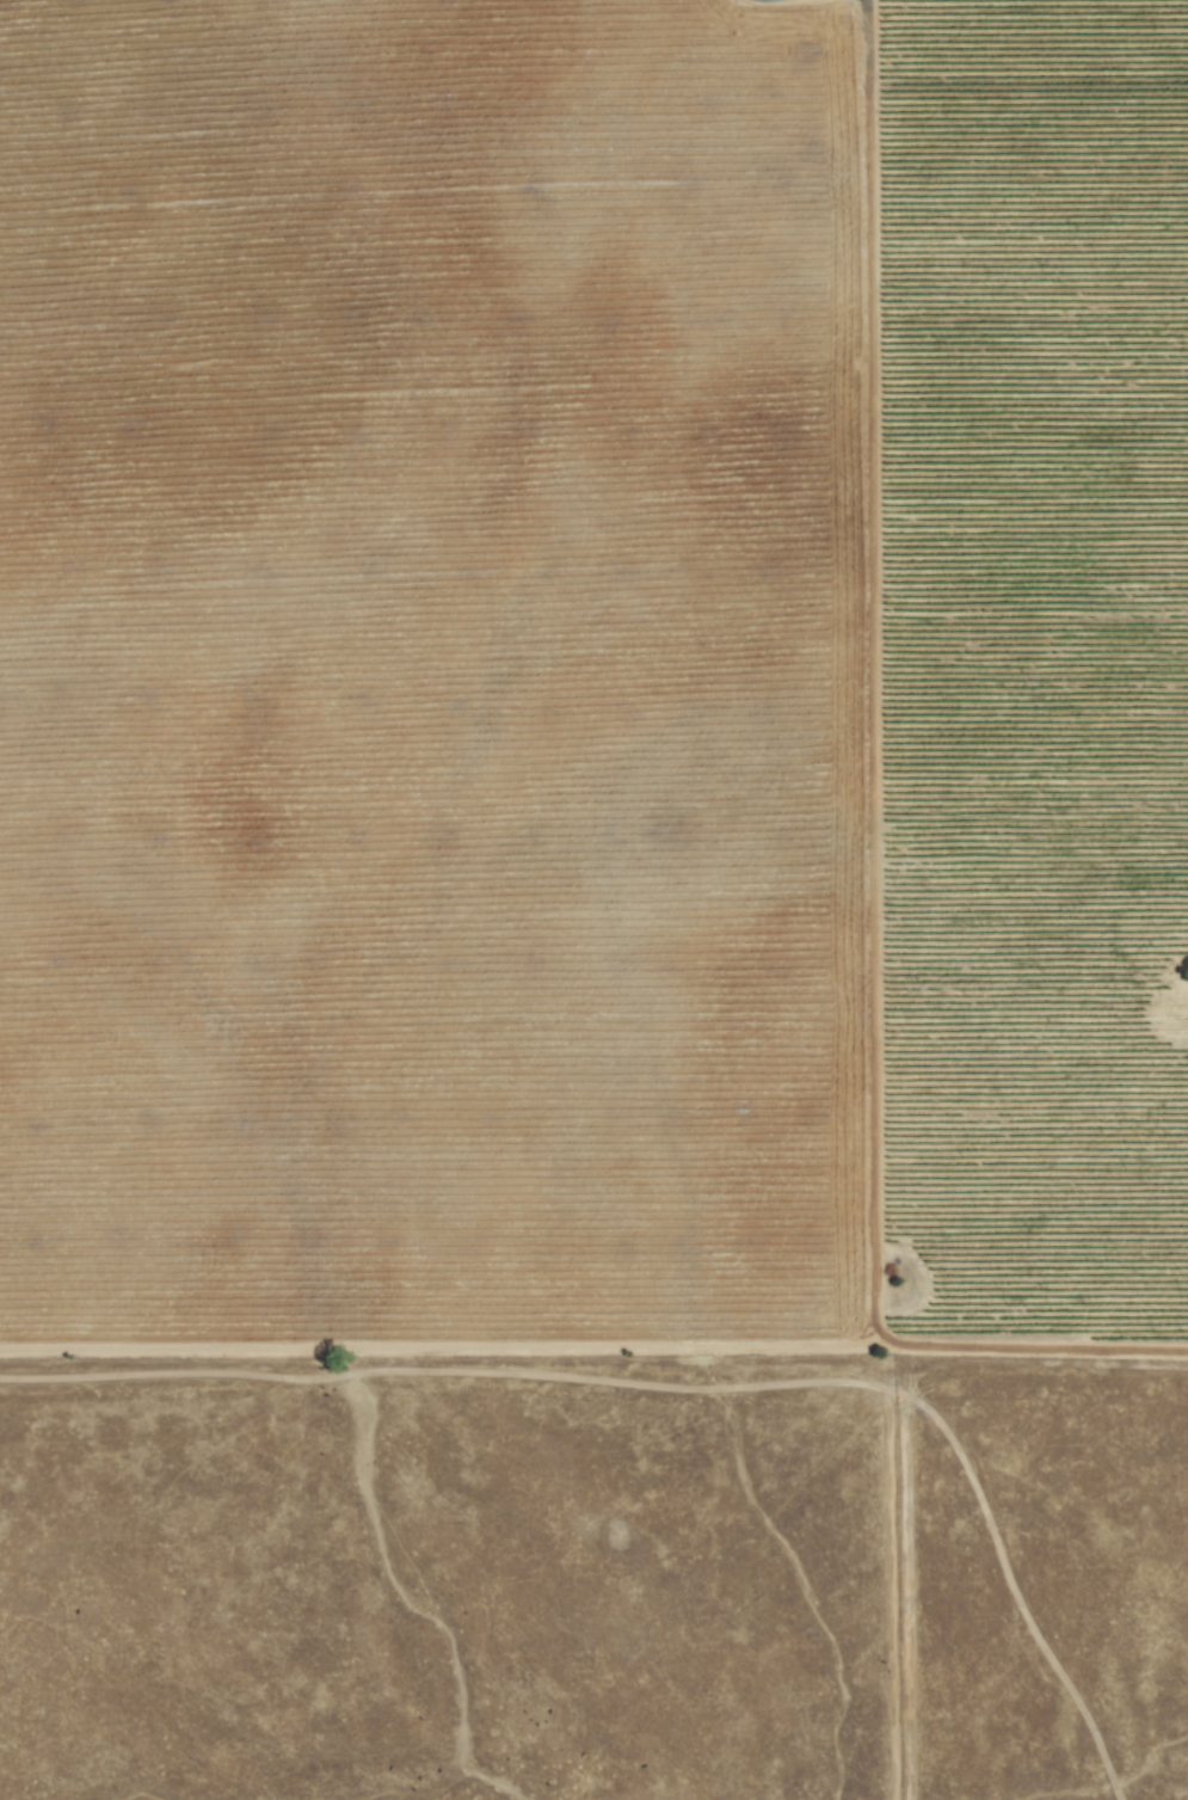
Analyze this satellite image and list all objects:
road: (593, 1356)

